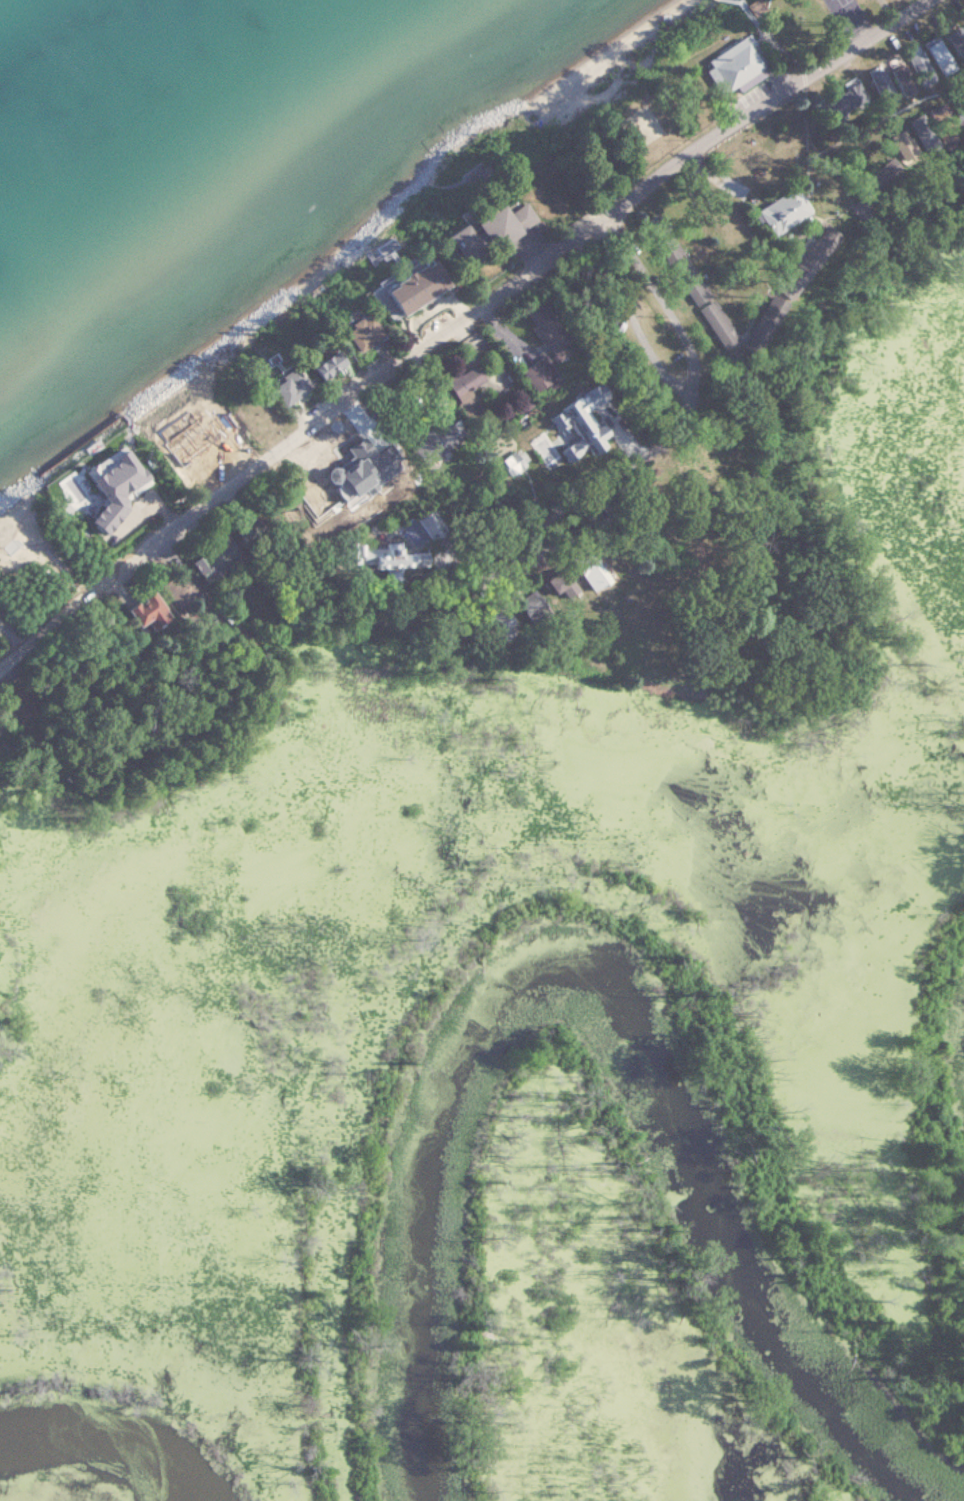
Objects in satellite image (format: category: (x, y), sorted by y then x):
building: (716, 63)
building: (775, 211)
building: (487, 224)
building: (819, 236)
building: (667, 257)
building: (397, 287)
road: (418, 309)
building: (708, 323)
building: (347, 332)
road: (453, 332)
road: (625, 332)
building: (538, 346)
building: (308, 364)
road: (682, 385)
building: (274, 386)
building: (461, 389)
building: (191, 443)
building: (702, 461)
building: (499, 464)
building: (308, 481)
building: (221, 549)
building: (374, 556)
building: (581, 564)
road: (473, 577)
building: (550, 585)
building: (173, 588)
building: (524, 605)
building: (140, 611)
river: (106, 1439)

